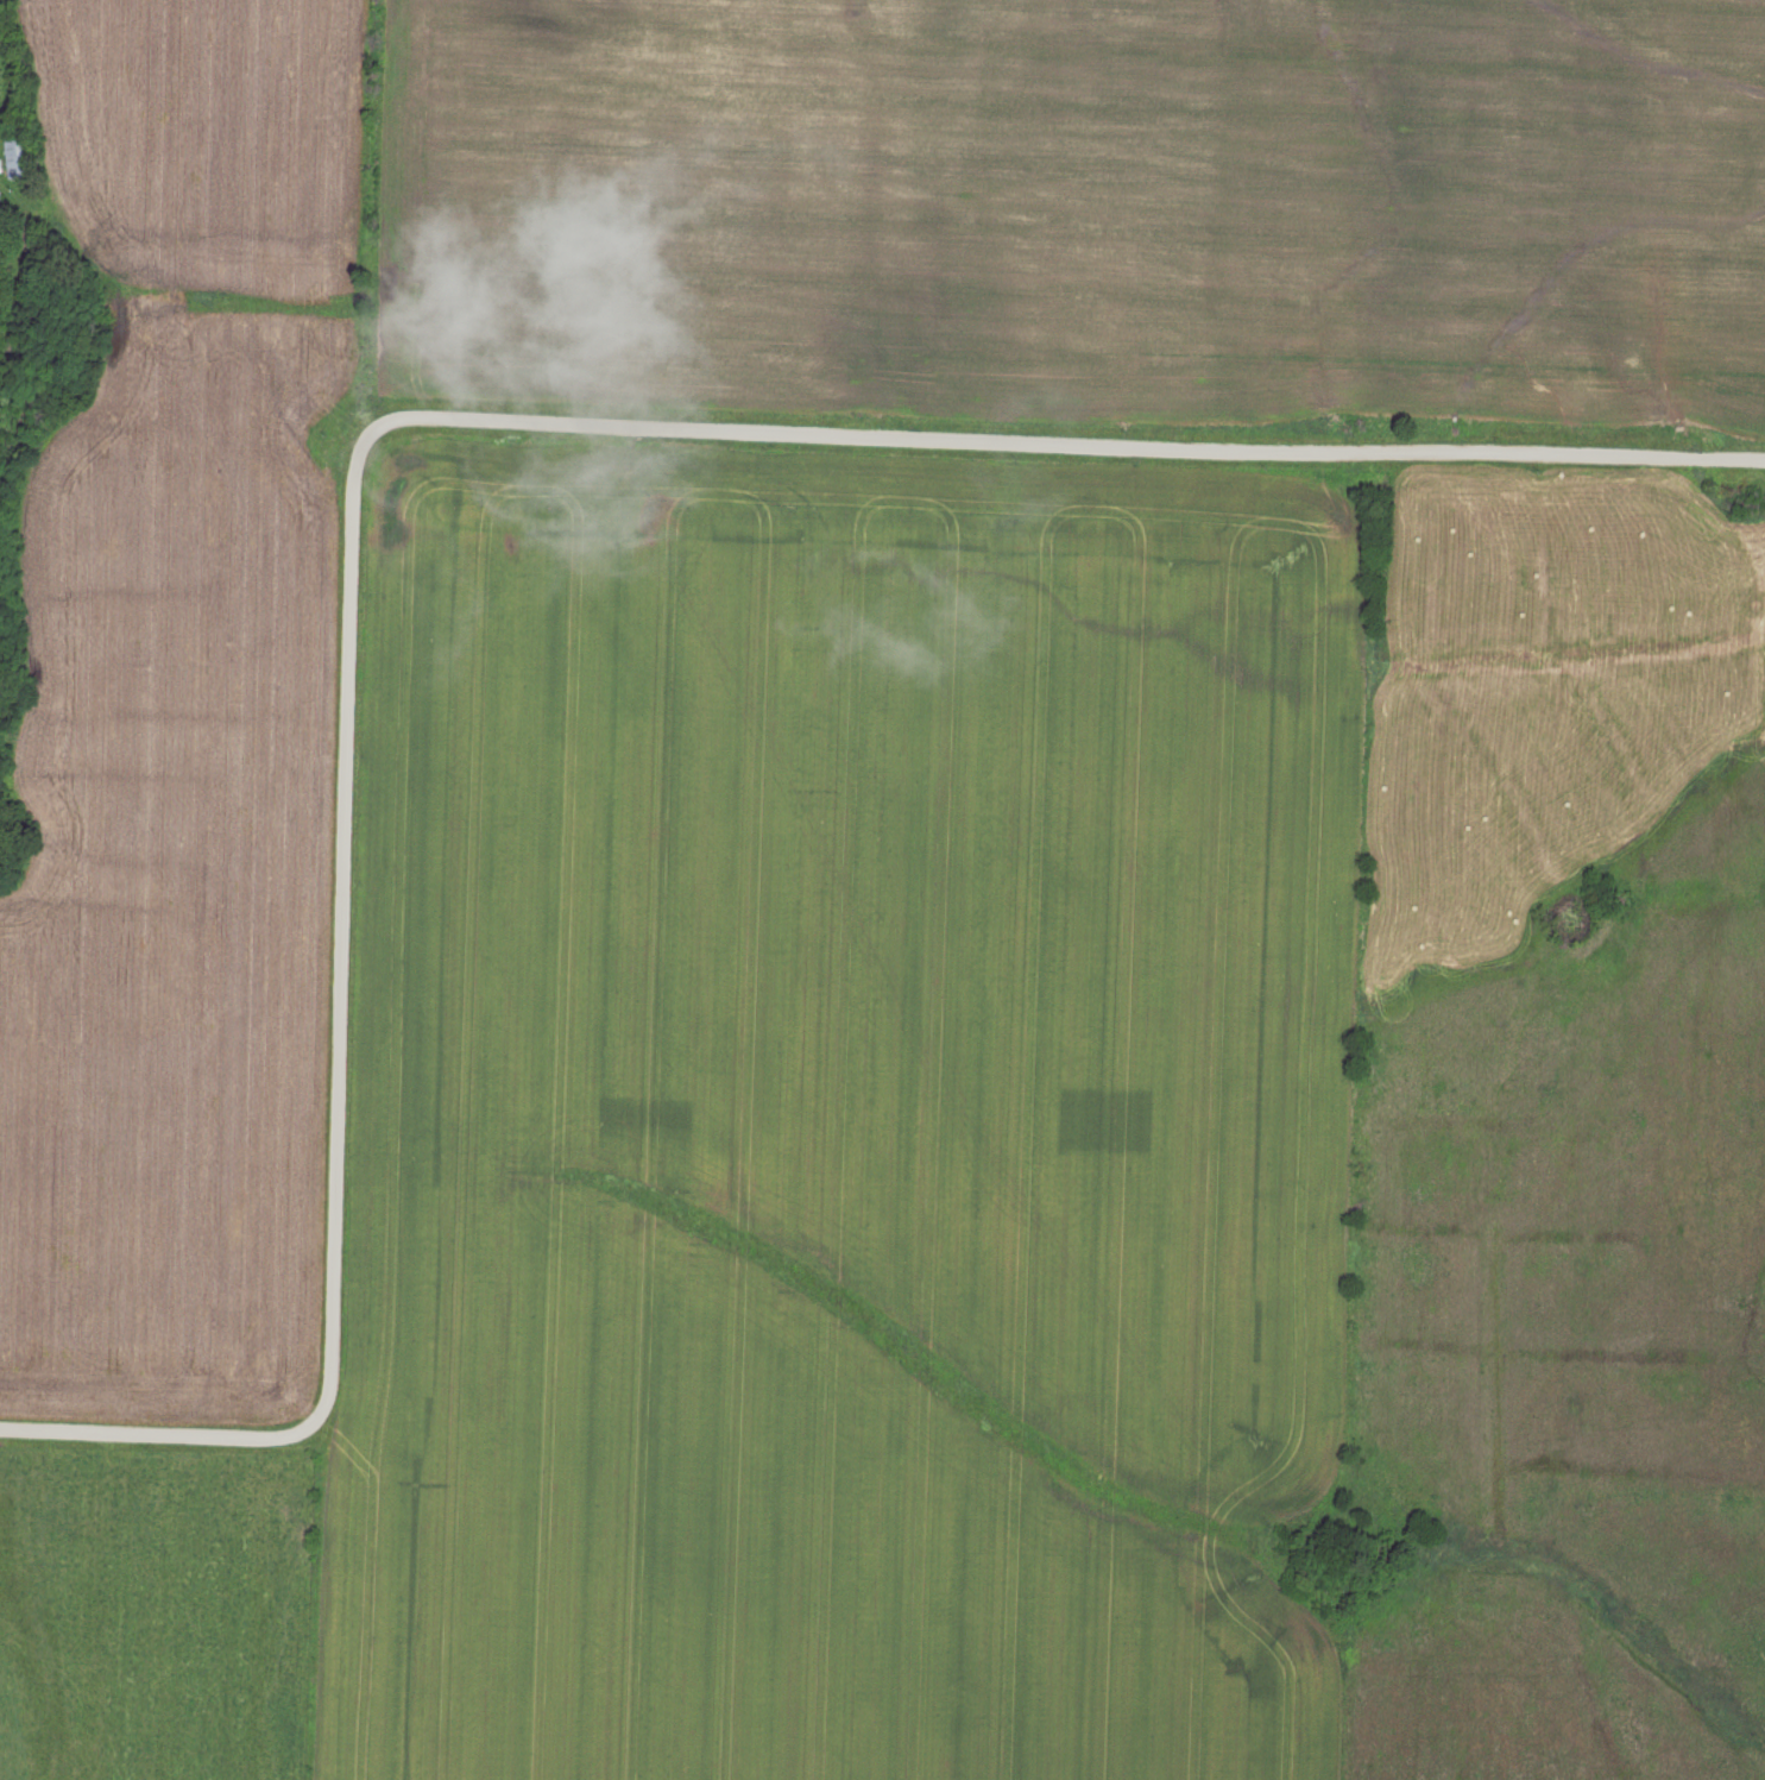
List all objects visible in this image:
building: (17, 159)
road: (587, 438)
road: (26, 600)
road: (159, 1445)

